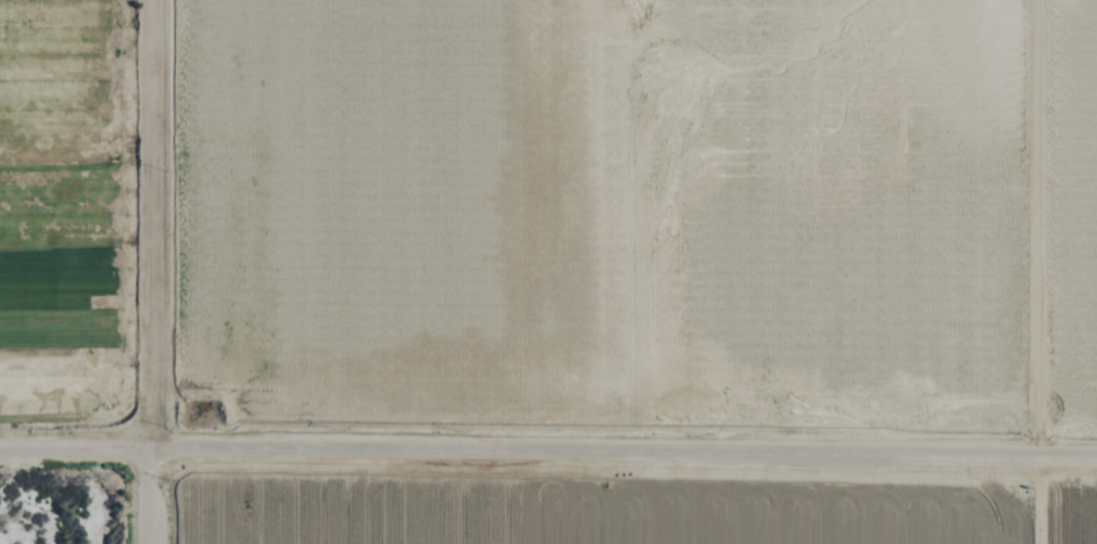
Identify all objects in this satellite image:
crop: (65, 213)
road: (149, 223)
road: (74, 448)
road: (622, 452)
road: (148, 495)

